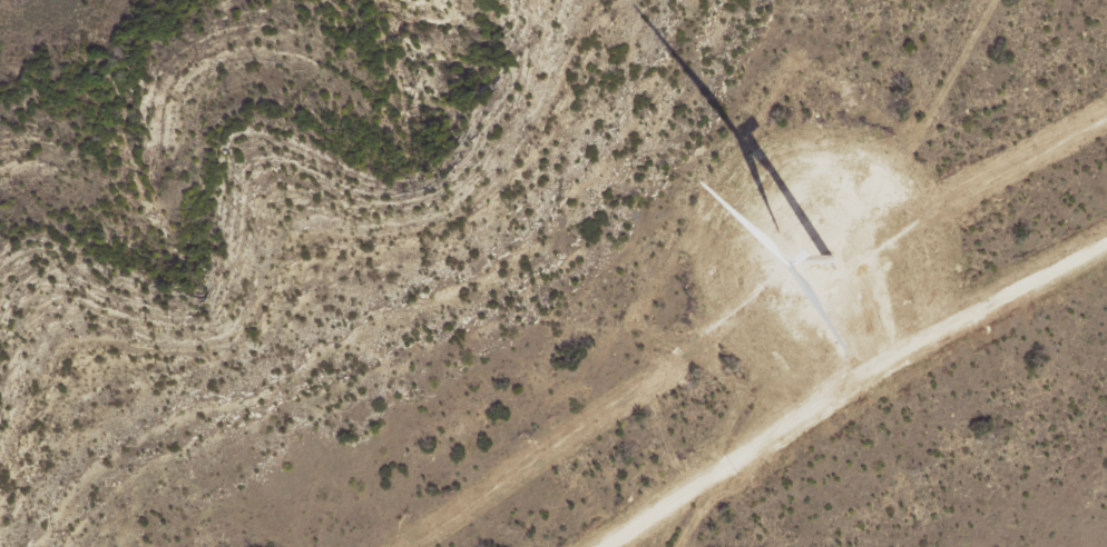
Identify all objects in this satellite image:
wind turbine: (822, 252)

